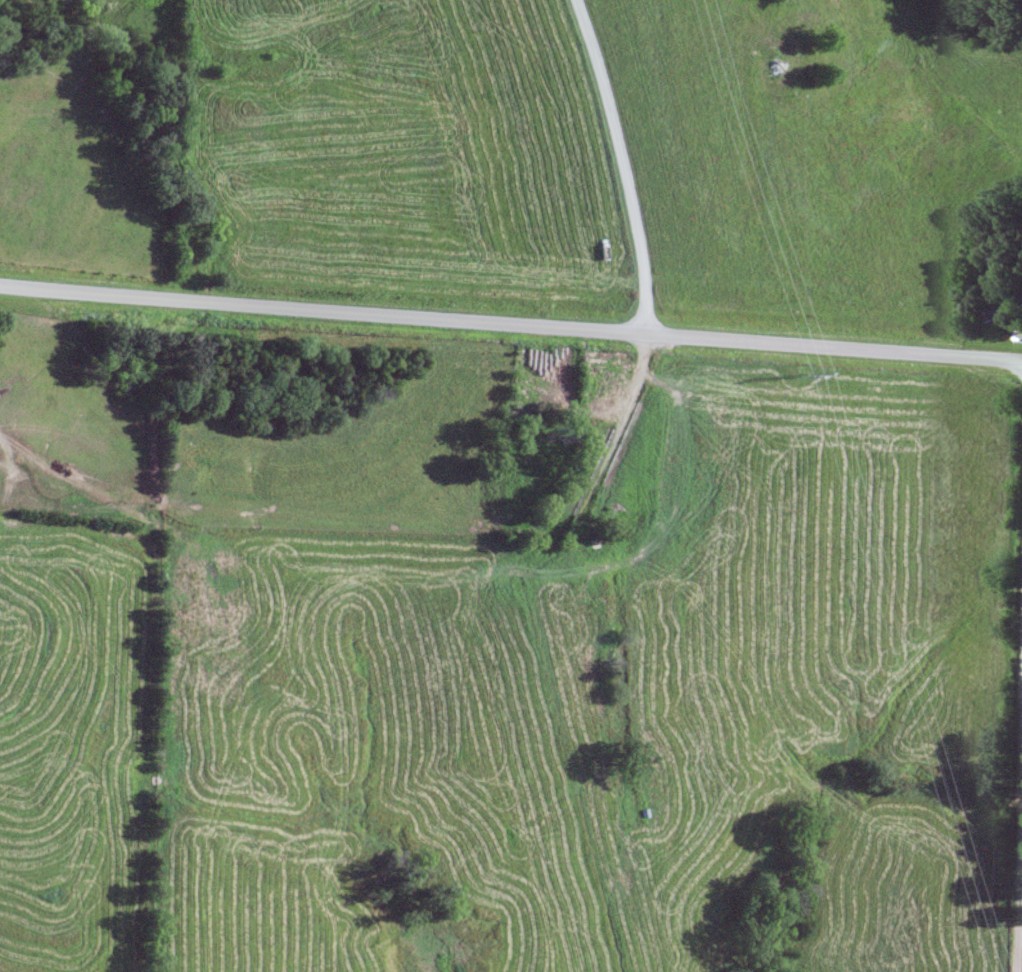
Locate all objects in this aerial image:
building: (777, 67)
road: (623, 163)
building: (1004, 309)
road: (510, 322)
road: (1019, 870)

